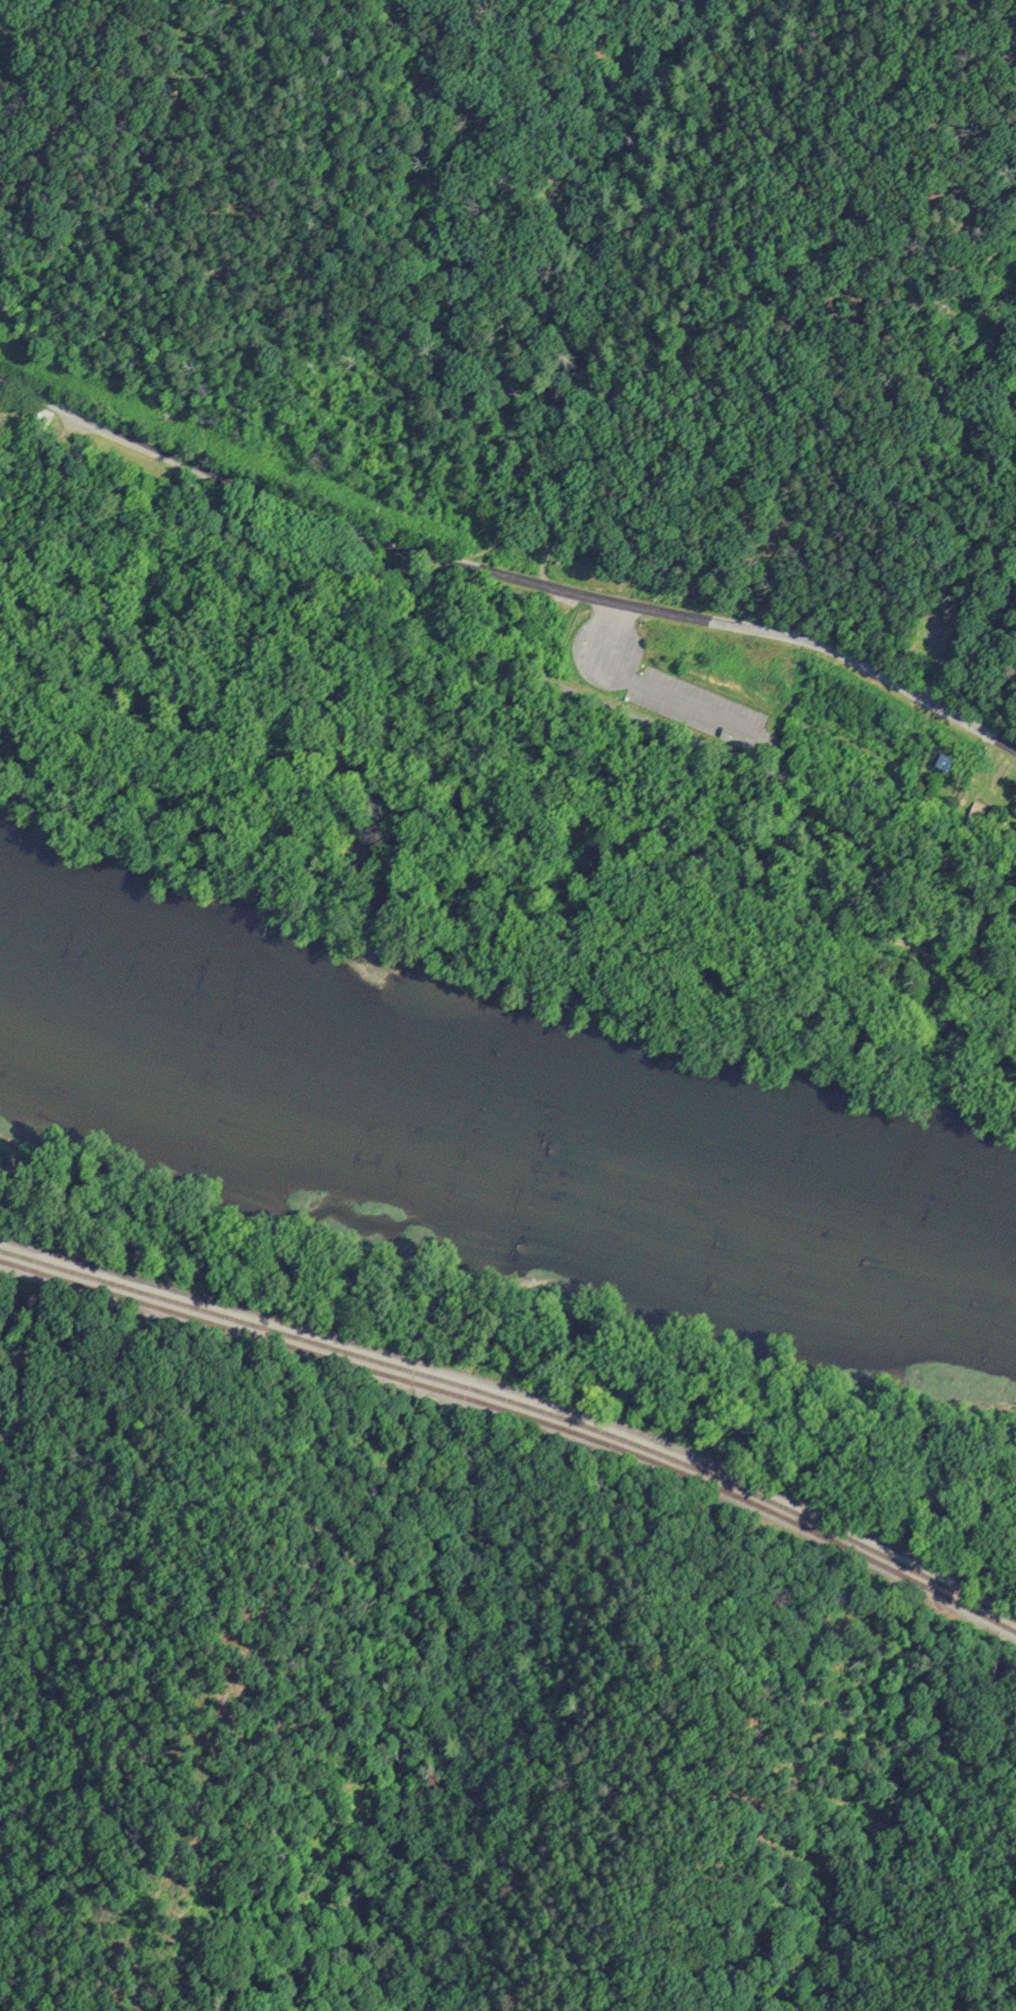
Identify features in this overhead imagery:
building: (39, 420)
road: (505, 575)
road: (507, 665)
park: (538, 683)
road: (656, 691)
parking lot: (701, 710)
road: (777, 751)
road: (508, 808)
river: (503, 1128)
road: (519, 1398)
railway: (519, 1405)
railway: (519, 1416)

